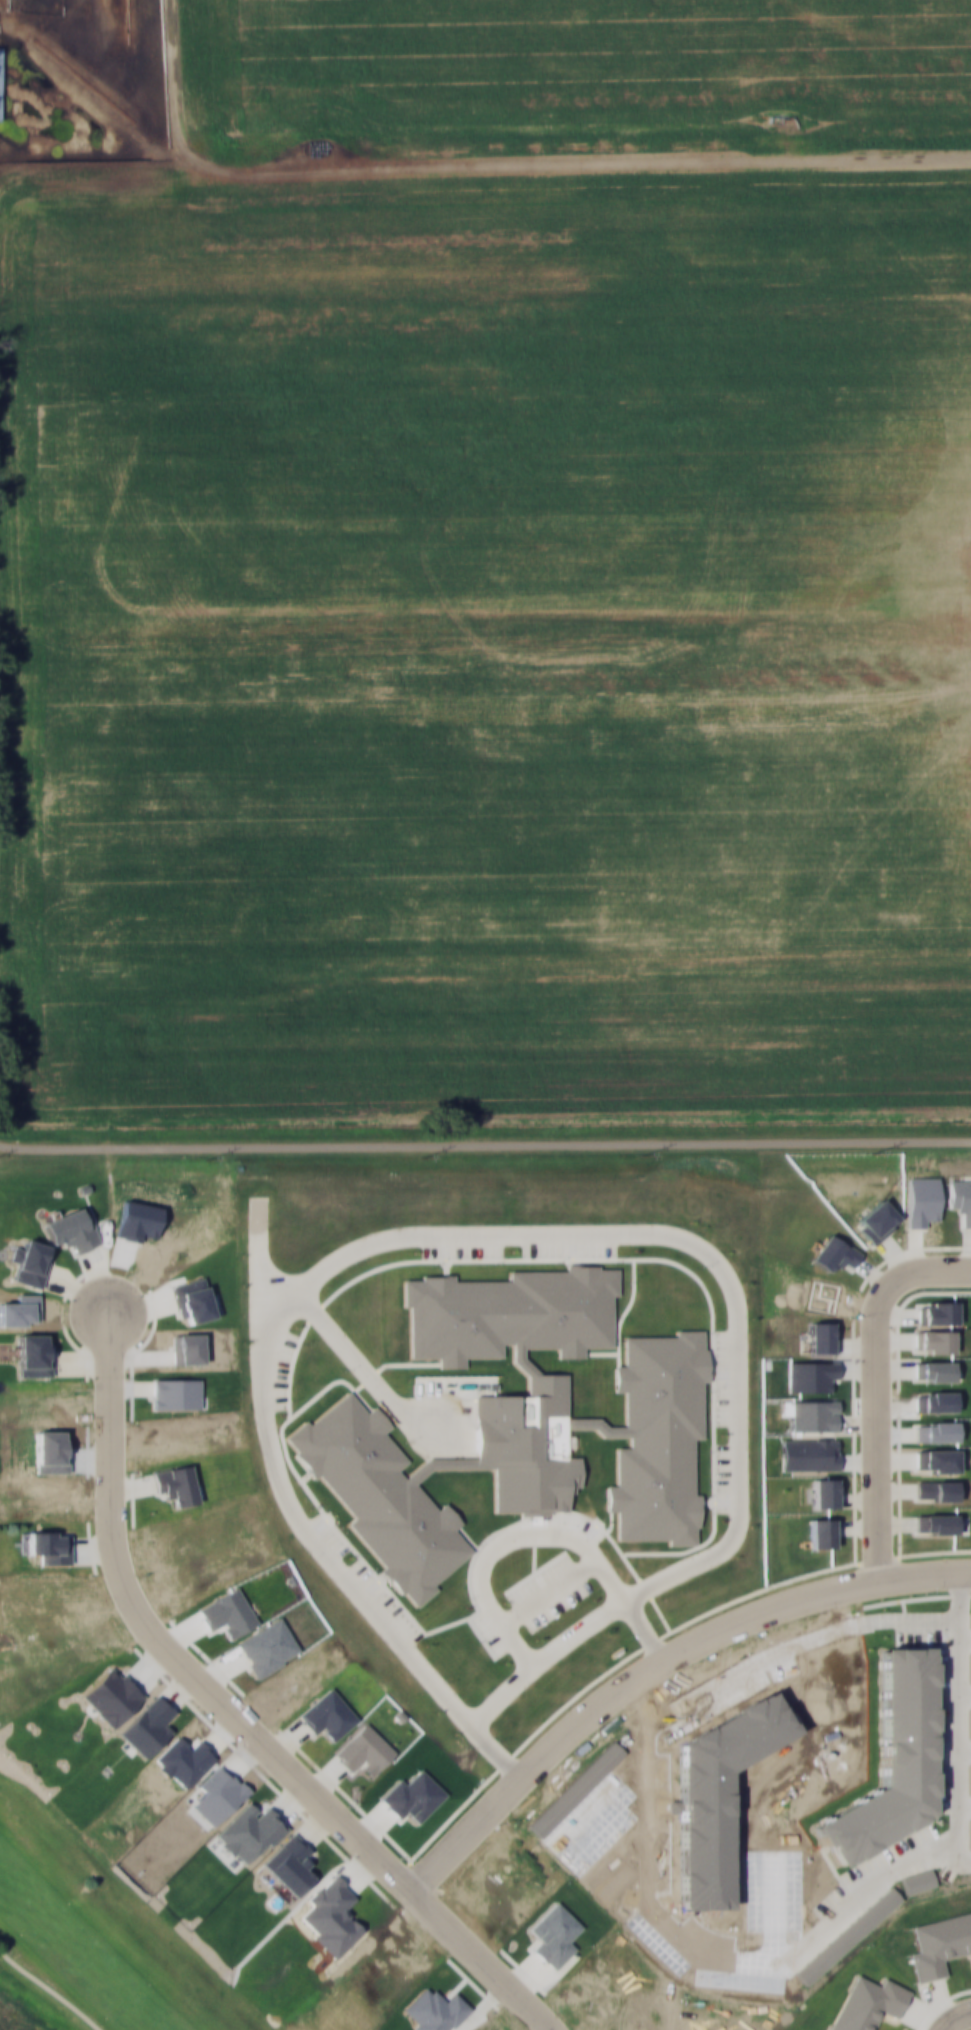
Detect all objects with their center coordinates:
building: (0, 83)
road: (498, 168)
road: (485, 1146)
road: (876, 1387)
road: (657, 1665)
road: (234, 1710)
park: (83, 1922)
road: (48, 1990)
road: (956, 2018)

